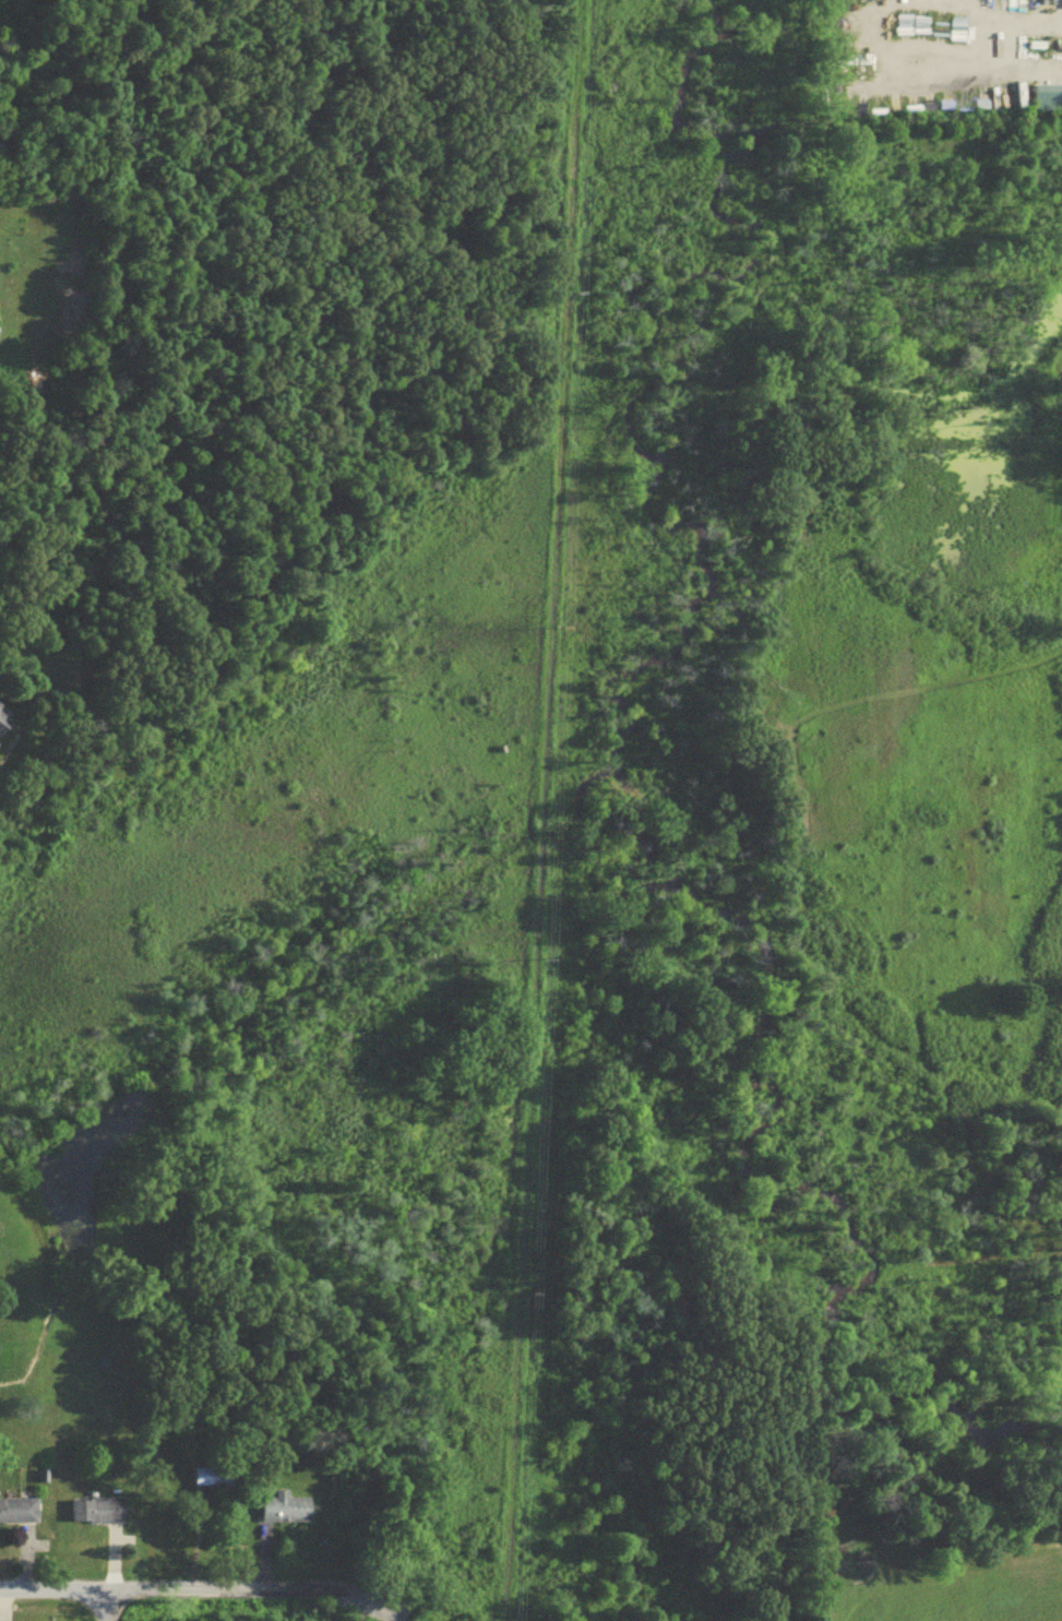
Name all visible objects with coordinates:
road: (1004, 23)
road: (988, 46)
road: (932, 69)
building: (1049, 105)
building: (0, 708)
building: (3, 728)
building: (214, 1481)
building: (287, 1513)
building: (97, 1515)
building: (19, 1516)
road: (202, 1597)
road: (115, 1609)

